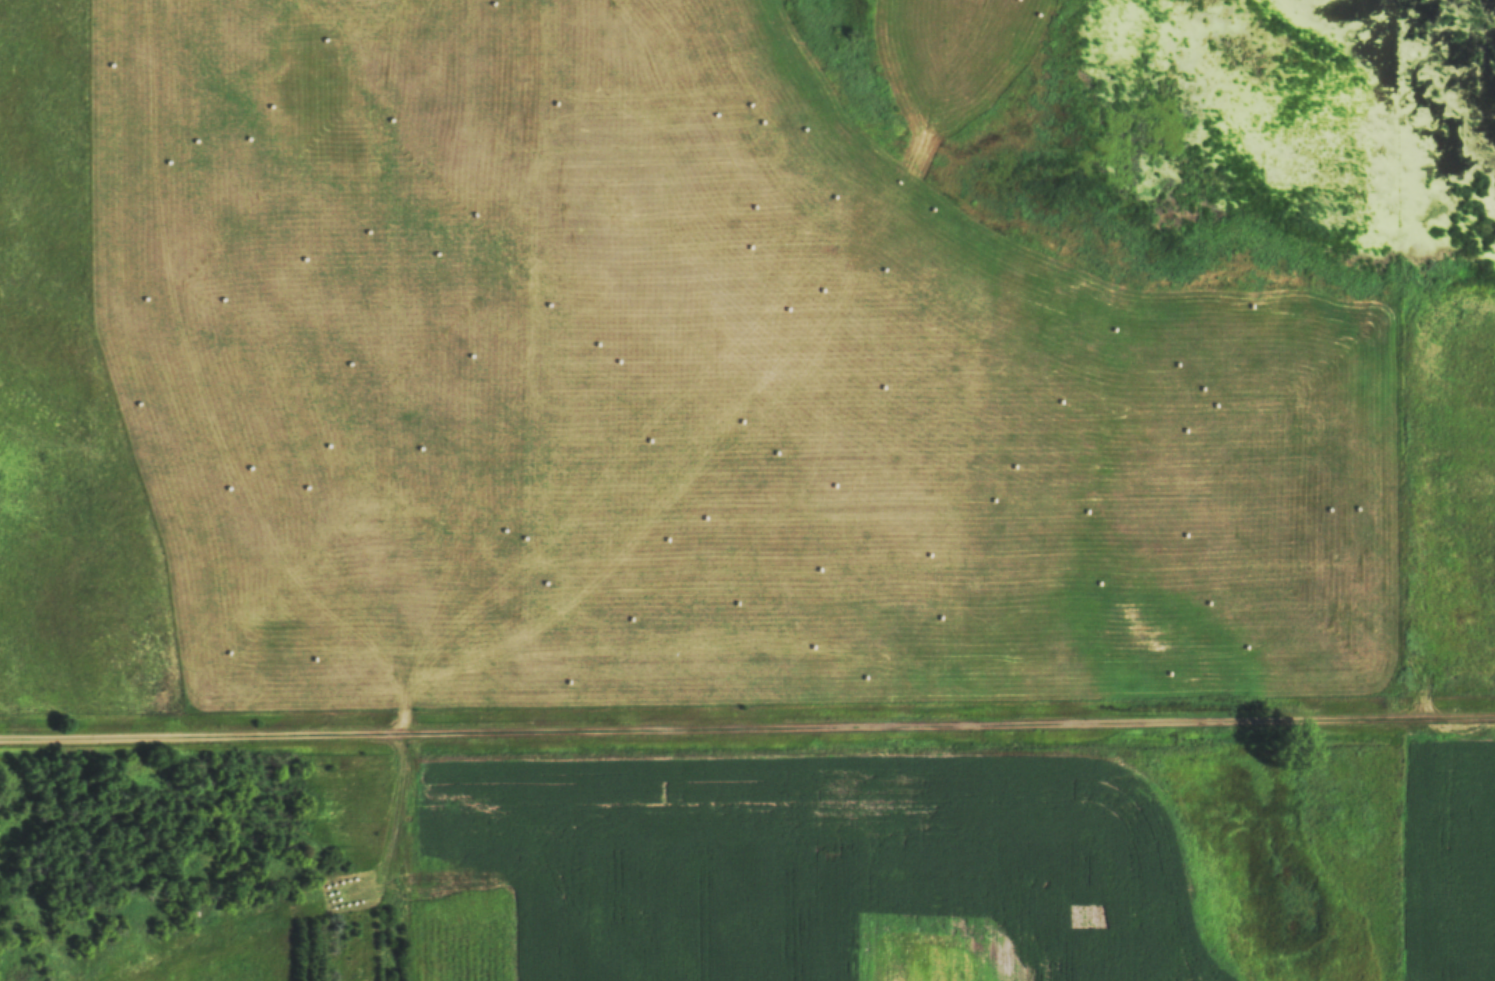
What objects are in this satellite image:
road: (747, 726)

